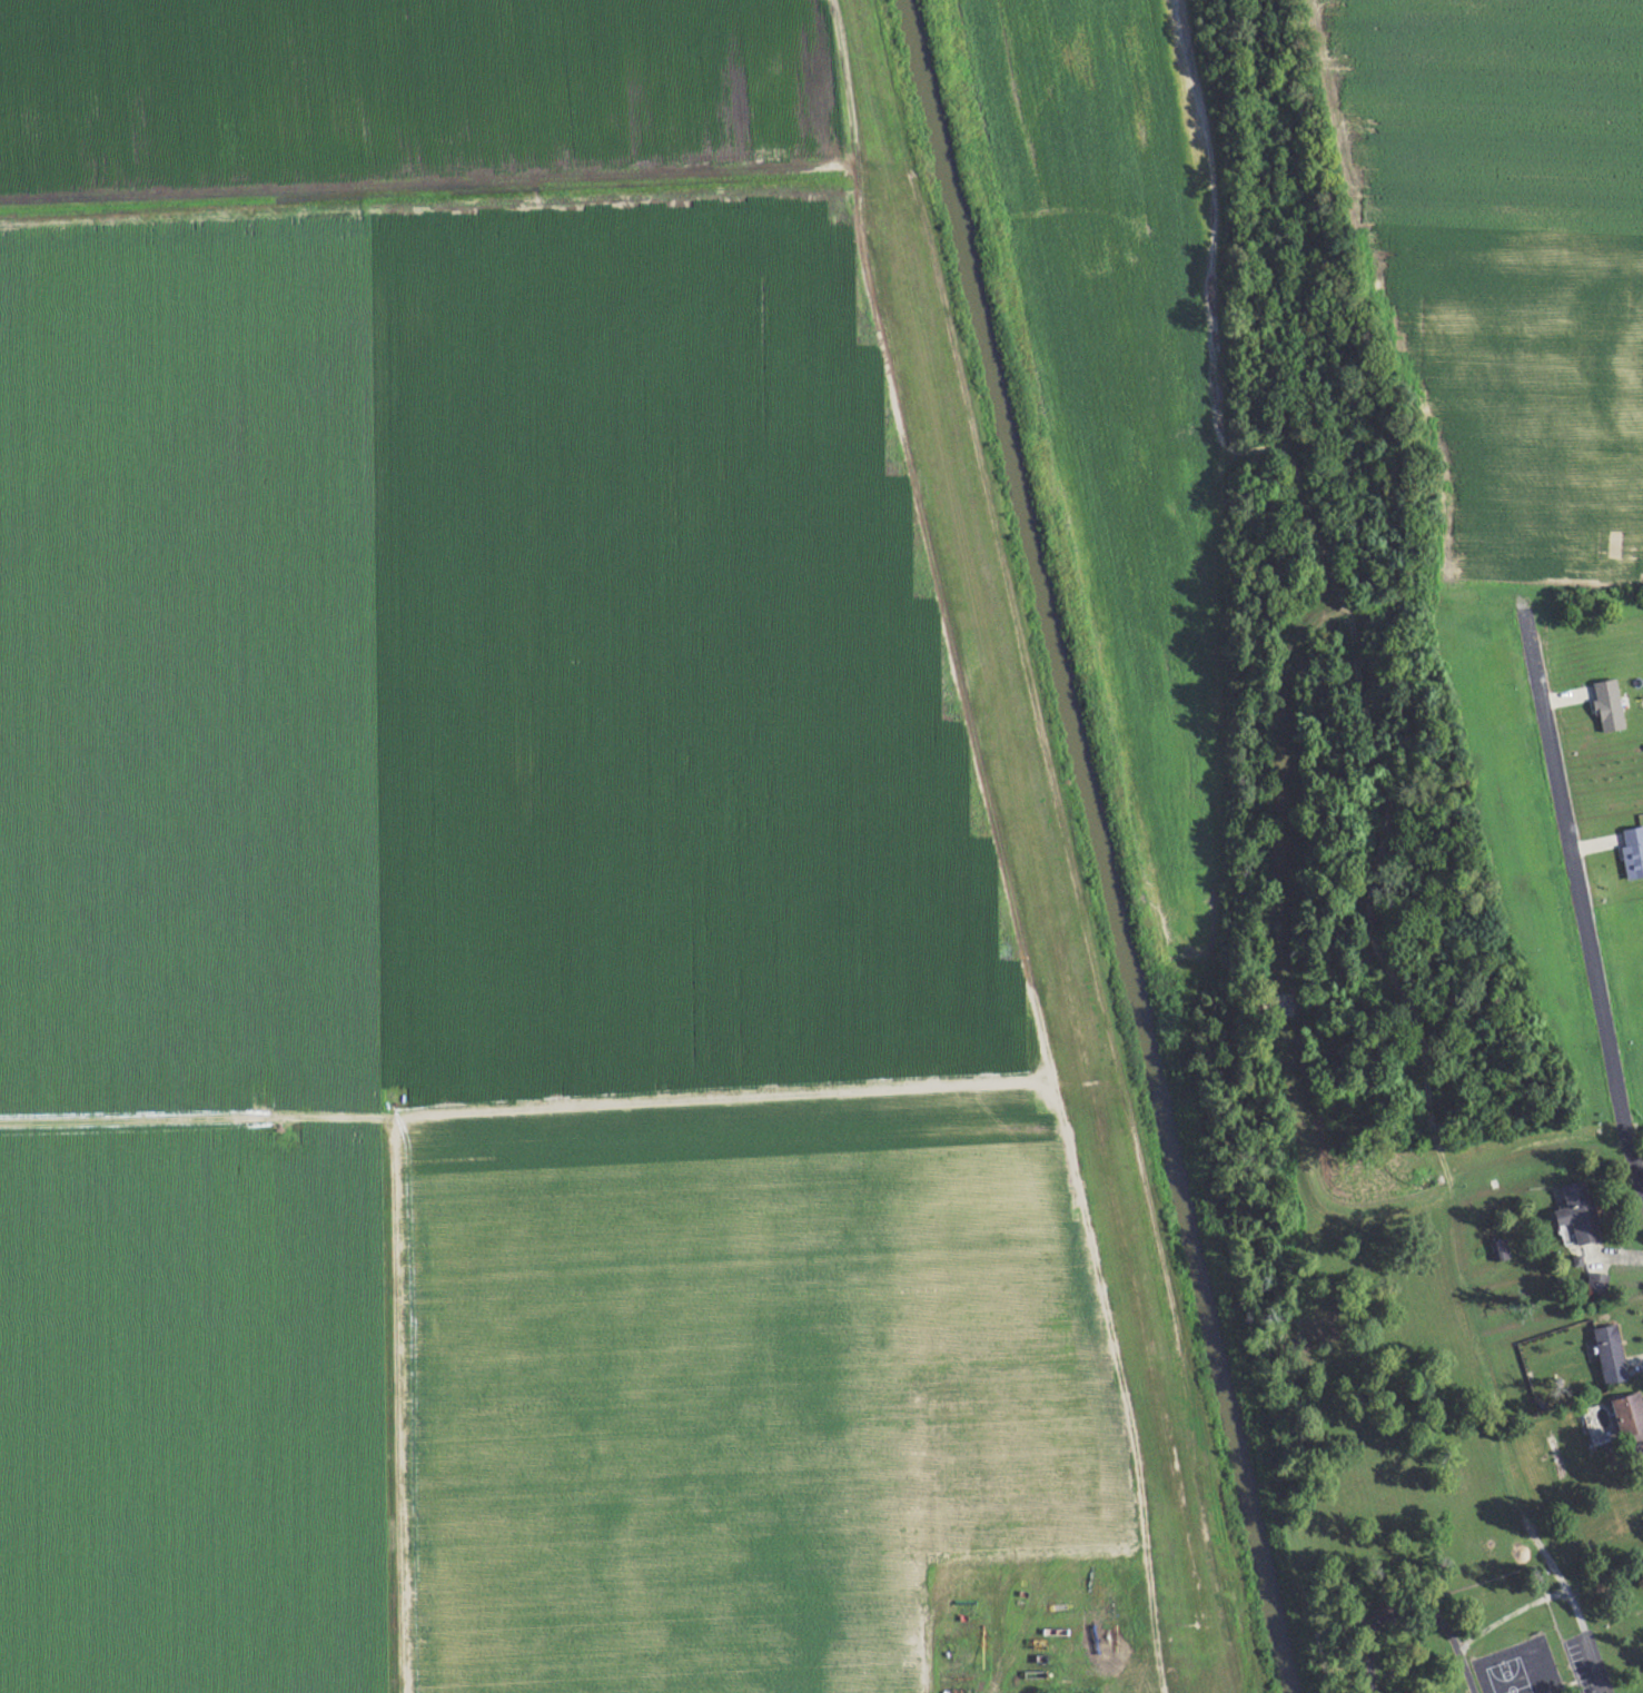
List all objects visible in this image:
building: (1611, 706)
building: (1634, 853)
building: (1581, 1214)
building: (1502, 1253)
building: (1600, 1285)
building: (1612, 1356)
building: (1632, 1418)

